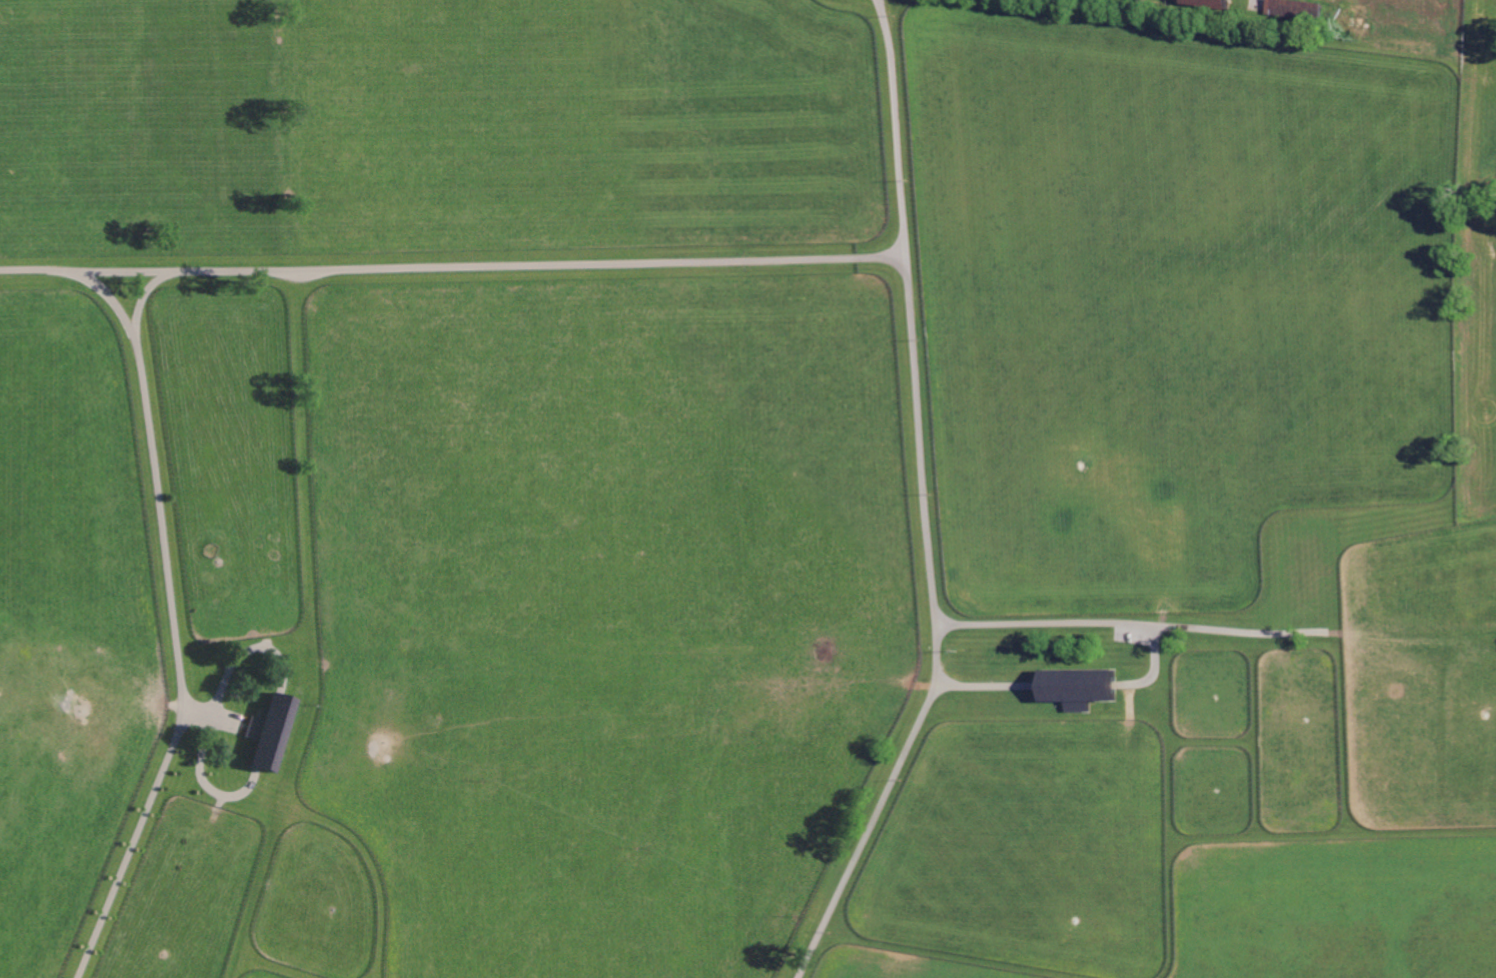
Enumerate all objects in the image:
building: (1298, 9)
road: (453, 267)
road: (135, 346)
road: (926, 502)
road: (1119, 622)
road: (244, 652)
road: (180, 674)
building: (1085, 687)
building: (271, 733)
road: (201, 768)
road: (208, 904)

